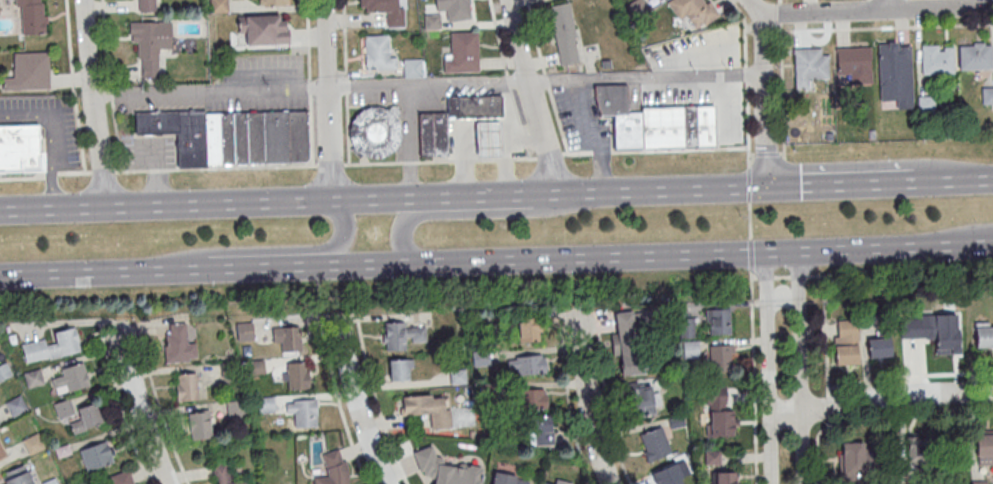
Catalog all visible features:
building: (273, 2)
road: (782, 2)
building: (146, 5)
road: (868, 5)
road: (885, 5)
road: (905, 5)
building: (218, 6)
building: (454, 8)
road: (753, 8)
road: (939, 8)
building: (384, 9)
building: (693, 10)
road: (824, 12)
road: (783, 15)
building: (30, 16)
building: (432, 21)
building: (261, 29)
road: (884, 29)
road: (744, 32)
road: (770, 32)
building: (565, 33)
road: (497, 37)
road: (535, 37)
road: (106, 43)
building: (150, 43)
building: (679, 43)
building: (714, 49)
building: (376, 51)
building: (462, 52)
building: (974, 55)
building: (937, 59)
building: (810, 63)
building: (854, 63)
building: (892, 64)
building: (412, 67)
building: (29, 72)
road: (746, 73)
road: (547, 80)
road: (746, 80)
road: (547, 81)
road: (346, 82)
road: (508, 82)
road: (309, 83)
road: (74, 86)
road: (210, 90)
road: (784, 93)
road: (110, 94)
road: (529, 96)
road: (767, 99)
road: (329, 100)
road: (94, 104)
building: (475, 107)
building: (619, 115)
building: (724, 120)
road: (559, 122)
road: (520, 124)
road: (748, 125)
building: (689, 126)
building: (374, 132)
building: (297, 135)
road: (594, 135)
road: (118, 136)
building: (246, 136)
road: (51, 139)
building: (488, 140)
building: (20, 148)
road: (654, 151)
road: (752, 155)
road: (782, 155)
road: (549, 156)
road: (767, 156)
road: (326, 166)
road: (102, 171)
road: (74, 172)
road: (786, 173)
road: (50, 174)
road: (153, 174)
road: (22, 176)
road: (953, 178)
road: (840, 182)
road: (749, 186)
traffic signals: (768, 186)
road: (383, 199)
road: (439, 213)
road: (750, 222)
road: (974, 234)
road: (330, 249)
road: (751, 253)
road: (635, 255)
road: (241, 266)
road: (102, 270)
road: (754, 277)
road: (765, 277)
road: (816, 277)
road: (782, 278)
road: (799, 278)
building: (719, 321)
road: (106, 325)
building: (945, 326)
building: (687, 327)
building: (528, 328)
building: (244, 331)
building: (401, 334)
road: (826, 335)
building: (983, 335)
building: (290, 337)
building: (632, 342)
building: (845, 342)
building: (178, 344)
building: (52, 346)
building: (878, 346)
building: (691, 349)
building: (719, 357)
building: (530, 364)
road: (769, 367)
road: (799, 367)
building: (400, 369)
building: (4, 371)
building: (298, 375)
road: (754, 375)
building: (457, 376)
road: (910, 377)
building: (33, 378)
building: (70, 378)
building: (186, 386)
building: (532, 398)
road: (881, 398)
building: (643, 399)
road: (585, 400)
road: (605, 400)
road: (569, 401)
road: (340, 403)
road: (355, 404)
road: (379, 404)
building: (16, 405)
road: (122, 405)
road: (160, 407)
road: (828, 407)
building: (62, 408)
building: (235, 408)
building: (428, 408)
road: (138, 409)
building: (720, 411)
building: (303, 412)
road: (910, 413)
building: (86, 417)
road: (828, 423)
building: (199, 425)
building: (540, 430)
building: (654, 443)
building: (984, 446)
building: (1, 452)
road: (817, 452)
building: (97, 455)
building: (855, 462)
building: (333, 468)
building: (445, 469)
building: (671, 473)
building: (17, 475)
building: (225, 475)
building: (285, 476)
building: (122, 477)
building: (724, 477)
building: (509, 478)
building: (979, 481)
building: (81, 483)

